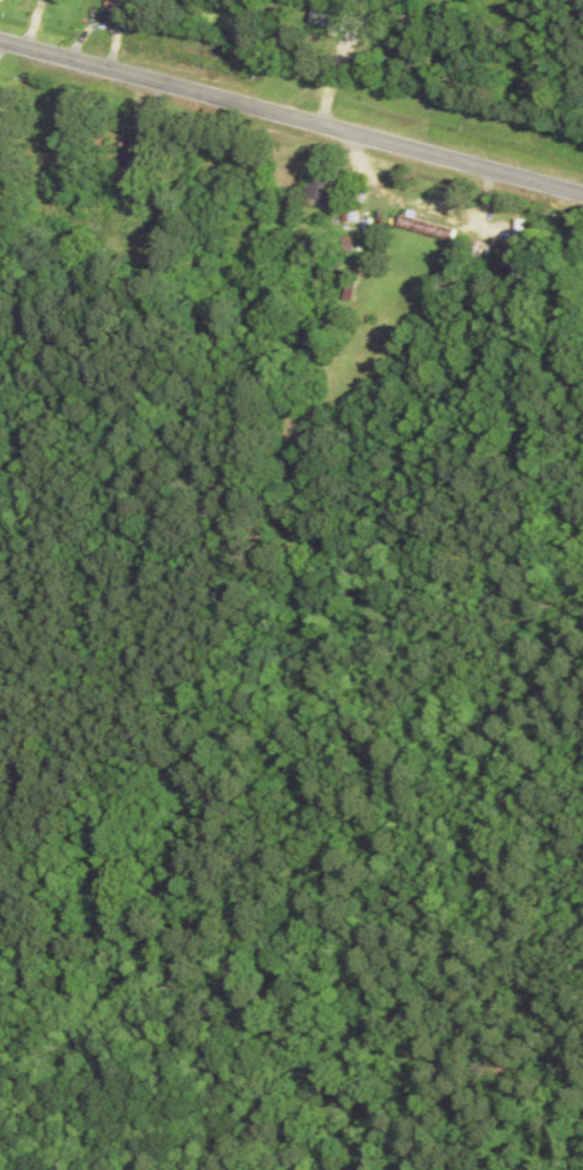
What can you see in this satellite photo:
building: (123, 6)
road: (291, 116)
building: (139, 157)
building: (323, 187)
building: (430, 227)
building: (521, 244)

